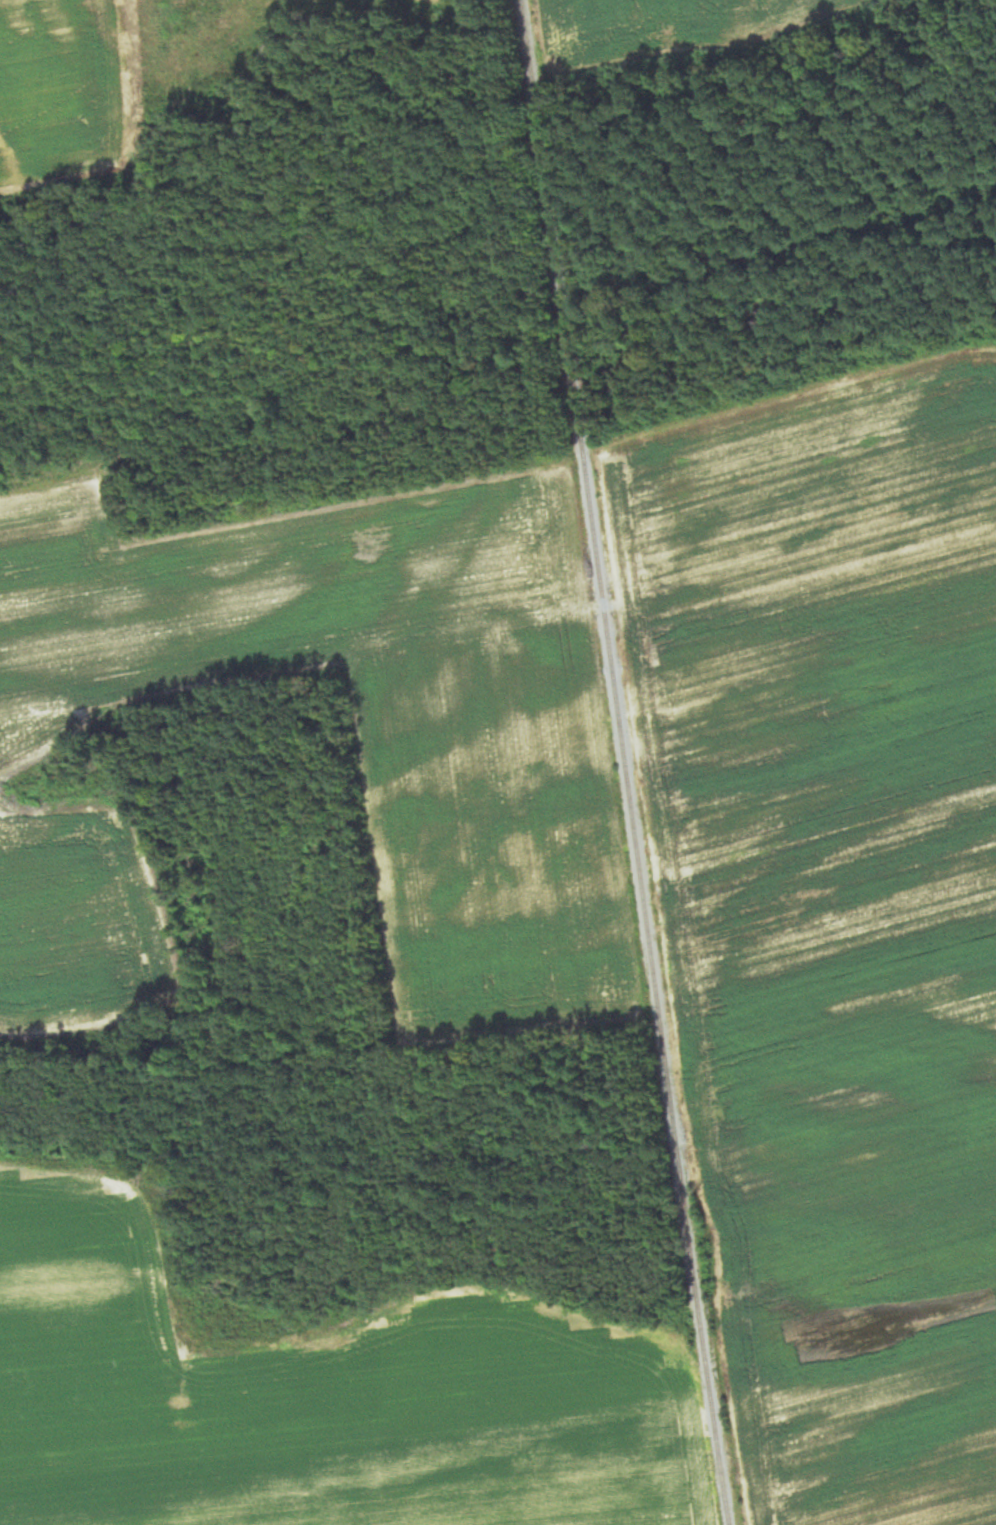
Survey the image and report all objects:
railway: (613, 763)

